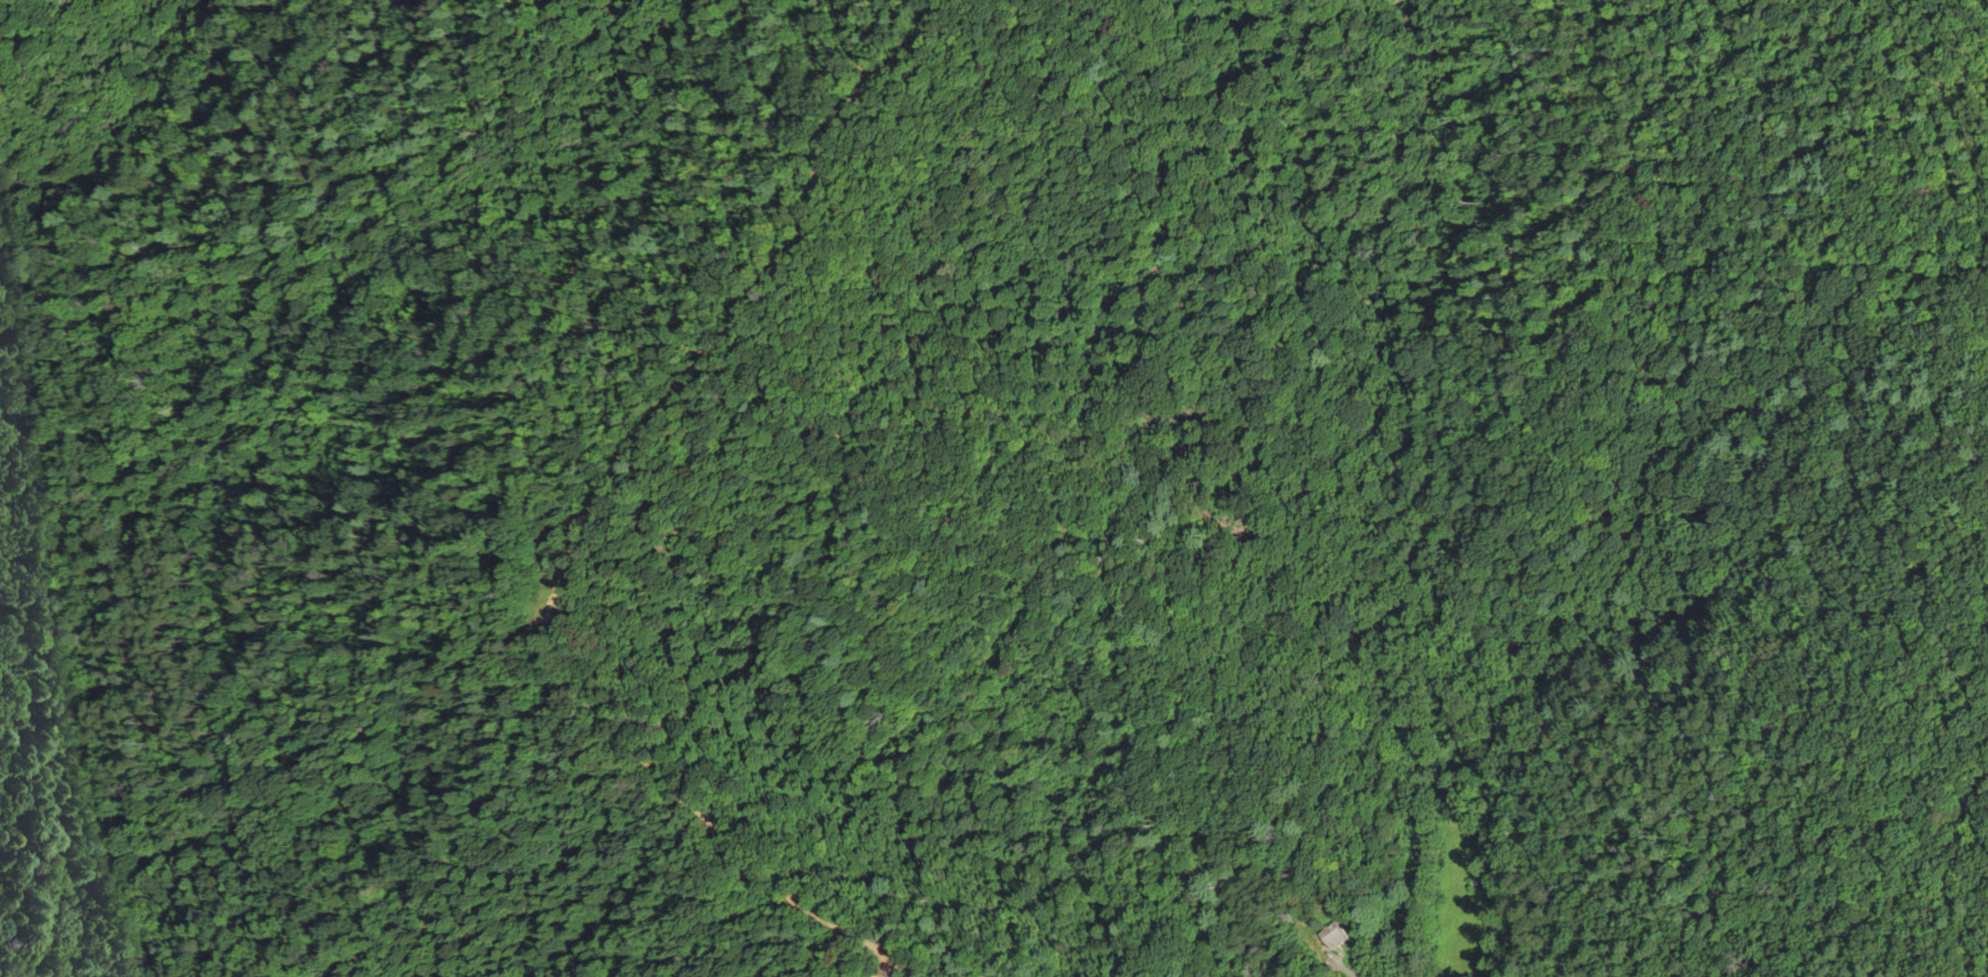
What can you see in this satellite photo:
building: (1337, 935)

